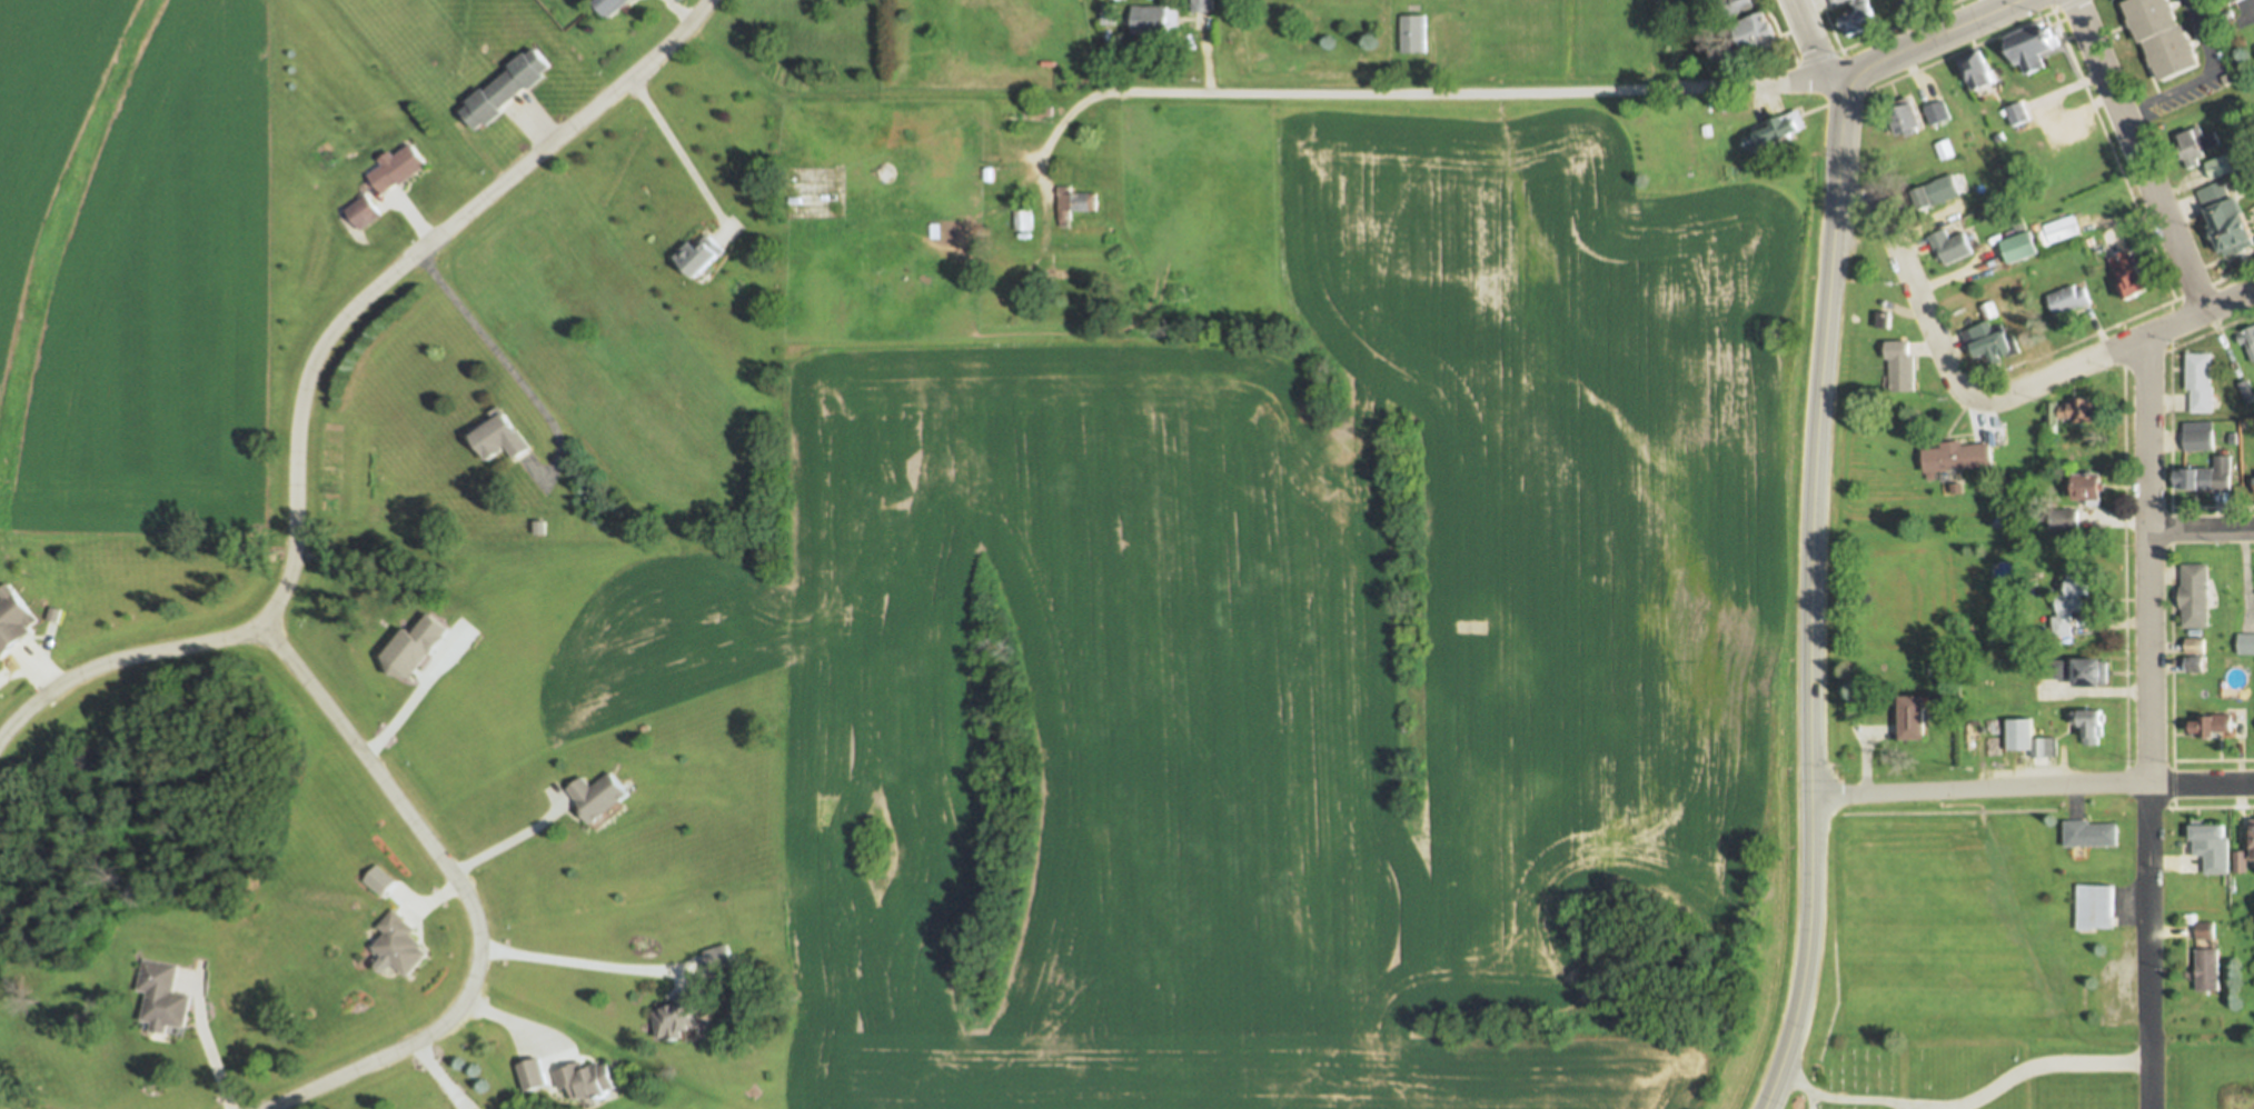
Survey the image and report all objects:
building: (2236, 0)
building: (1837, 2)
building: (1916, 3)
building: (613, 6)
building: (1735, 6)
building: (1201, 7)
building: (1110, 16)
building: (1859, 18)
building: (1154, 21)
road: (1828, 26)
road: (1897, 26)
building: (1413, 34)
building: (1756, 34)
road: (1933, 36)
building: (2166, 37)
building: (2034, 47)
road: (1789, 48)
road: (1816, 48)
road: (1962, 50)
road: (1816, 57)
parking lot: (2217, 68)
building: (1978, 70)
road: (2205, 77)
building: (506, 90)
road: (1468, 93)
building: (1940, 112)
building: (2020, 112)
building: (1909, 118)
building: (1776, 130)
building: (2195, 143)
road: (1044, 148)
building: (1946, 149)
road: (2139, 154)
road: (675, 156)
road: (2112, 156)
building: (2218, 166)
building: (398, 167)
building: (1927, 194)
building: (1072, 203)
building: (364, 211)
building: (2231, 218)
building: (1021, 219)
building: (2063, 228)
building: (1949, 244)
building: (2019, 247)
building: (699, 253)
road: (1958, 273)
building: (1055, 274)
building: (2132, 276)
road: (1831, 287)
road: (1916, 288)
building: (2068, 299)
building: (1988, 310)
building: (1881, 319)
road: (336, 324)
road: (2112, 327)
building: (1988, 340)
road: (2188, 341)
building: (2246, 341)
road: (2117, 348)
building: (1900, 366)
road: (508, 371)
building: (2202, 382)
building: (2247, 390)
building: (2084, 411)
building: (2051, 412)
building: (500, 438)
building: (2198, 441)
building: (1959, 456)
building: (2208, 476)
building: (2091, 488)
road: (2212, 506)
building: (2064, 519)
road: (2200, 526)
road: (2124, 566)
road: (2172, 566)
building: (2197, 595)
building: (2069, 603)
building: (13, 619)
building: (2245, 643)
building: (2196, 646)
road: (118, 665)
building: (2195, 665)
building: (2078, 670)
building: (1915, 717)
road: (2149, 722)
building: (2092, 725)
building: (2214, 726)
building: (2029, 739)
road: (2213, 759)
road: (2032, 788)
building: (598, 796)
road: (2202, 806)
road: (1809, 807)
building: (2093, 833)
road: (512, 840)
building: (2211, 845)
building: (2241, 861)
building: (2096, 907)
building: (2206, 930)
building: (401, 945)
road: (587, 961)
building: (2207, 970)
road: (473, 977)
building: (163, 997)
building: (684, 1013)
road: (518, 1023)
road: (206, 1043)
road: (2086, 1062)
building: (536, 1076)
road: (440, 1077)
building: (586, 1078)
park: (1913, 1080)
road: (1904, 1081)
road: (2025, 1089)
road: (1810, 1099)
road: (1904, 1105)

